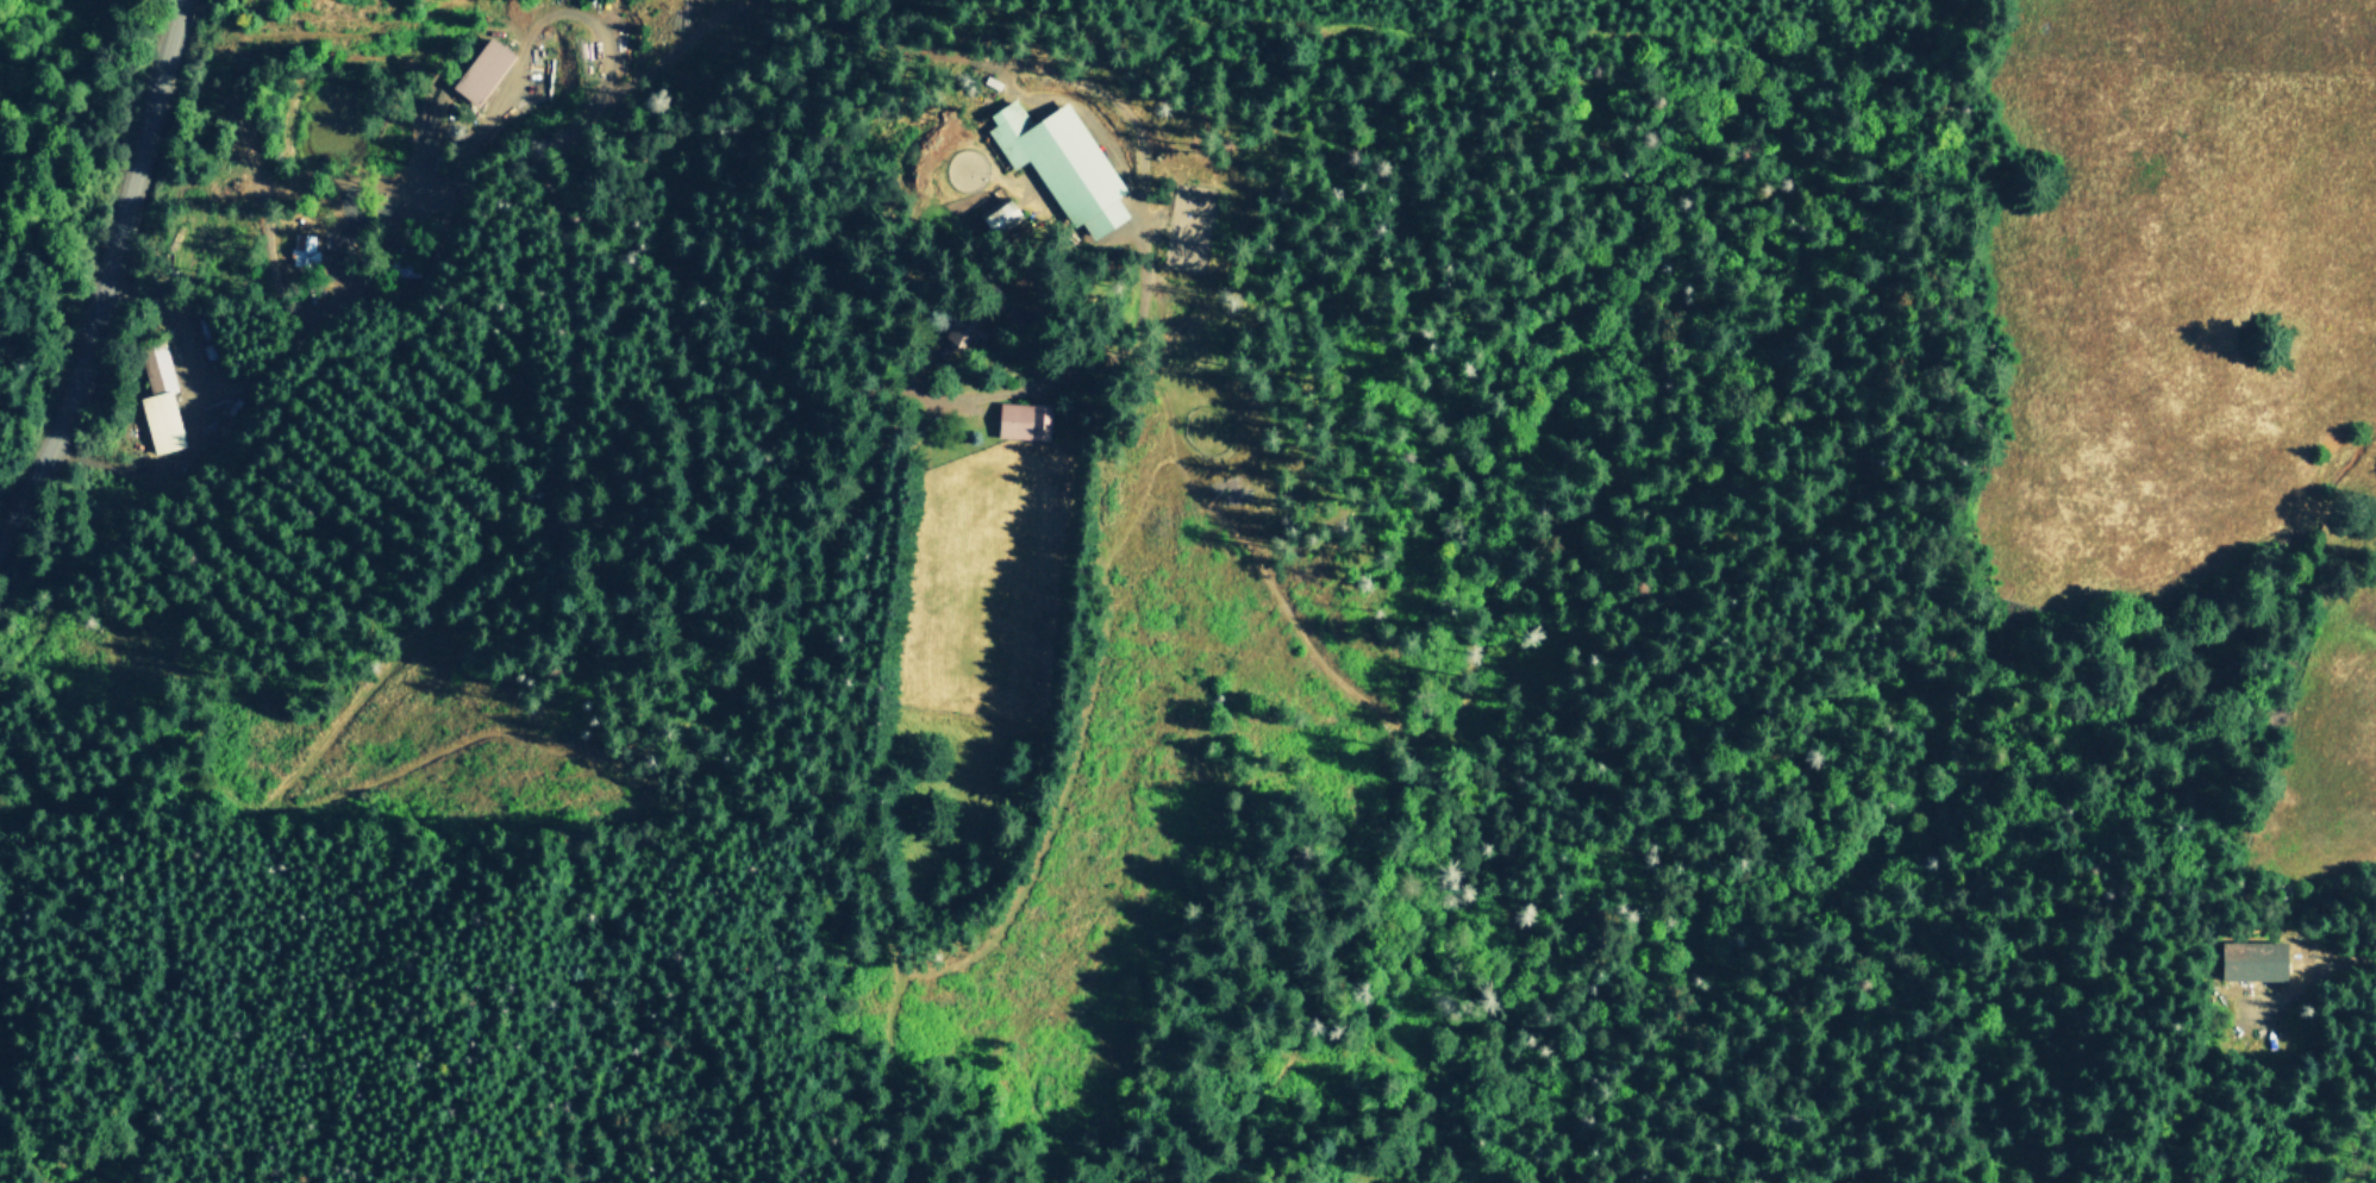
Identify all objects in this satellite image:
building: (481, 70)
building: (1061, 163)
building: (999, 217)
building: (304, 249)
road: (106, 274)
building: (965, 331)
road: (568, 387)
building: (158, 400)
building: (1023, 421)
road: (189, 446)
building: (2252, 958)
road: (2344, 958)

